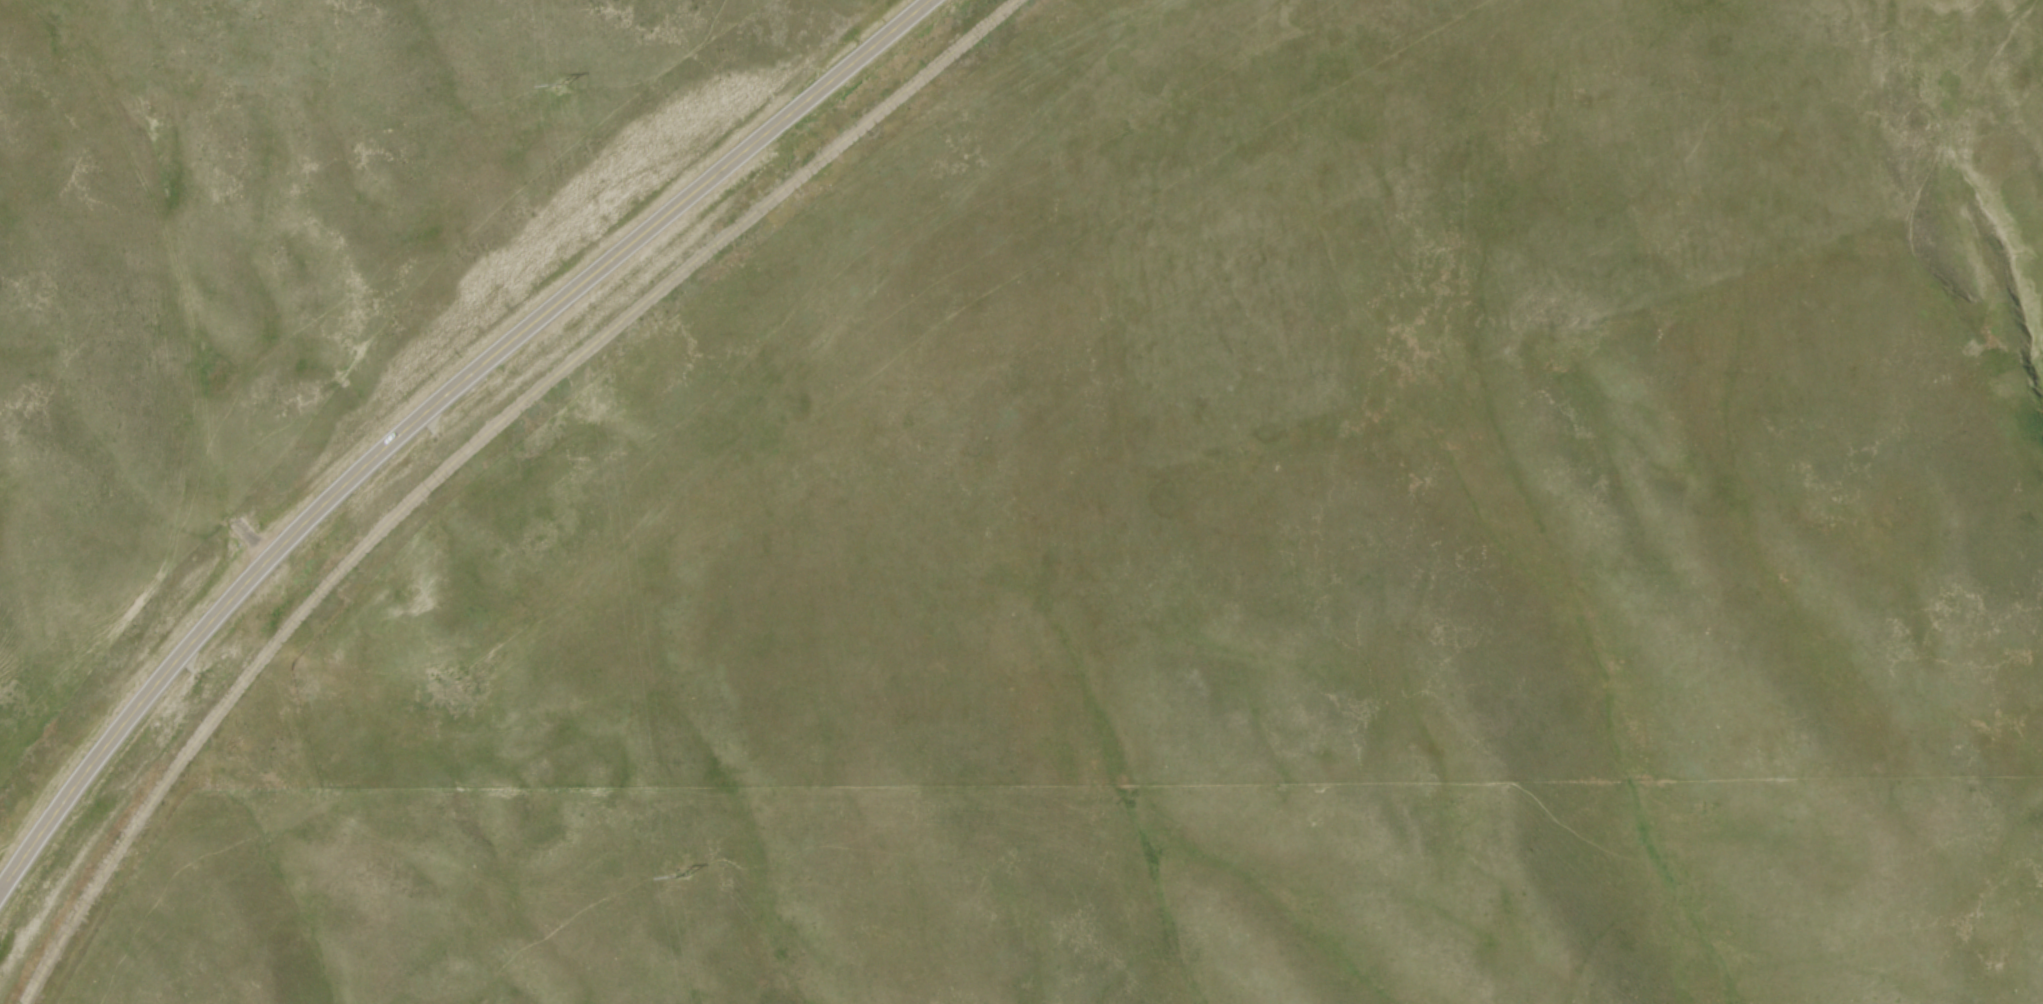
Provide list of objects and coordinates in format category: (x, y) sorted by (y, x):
power tower: (562, 85)
road: (431, 412)
road: (471, 448)
power tower: (682, 878)

